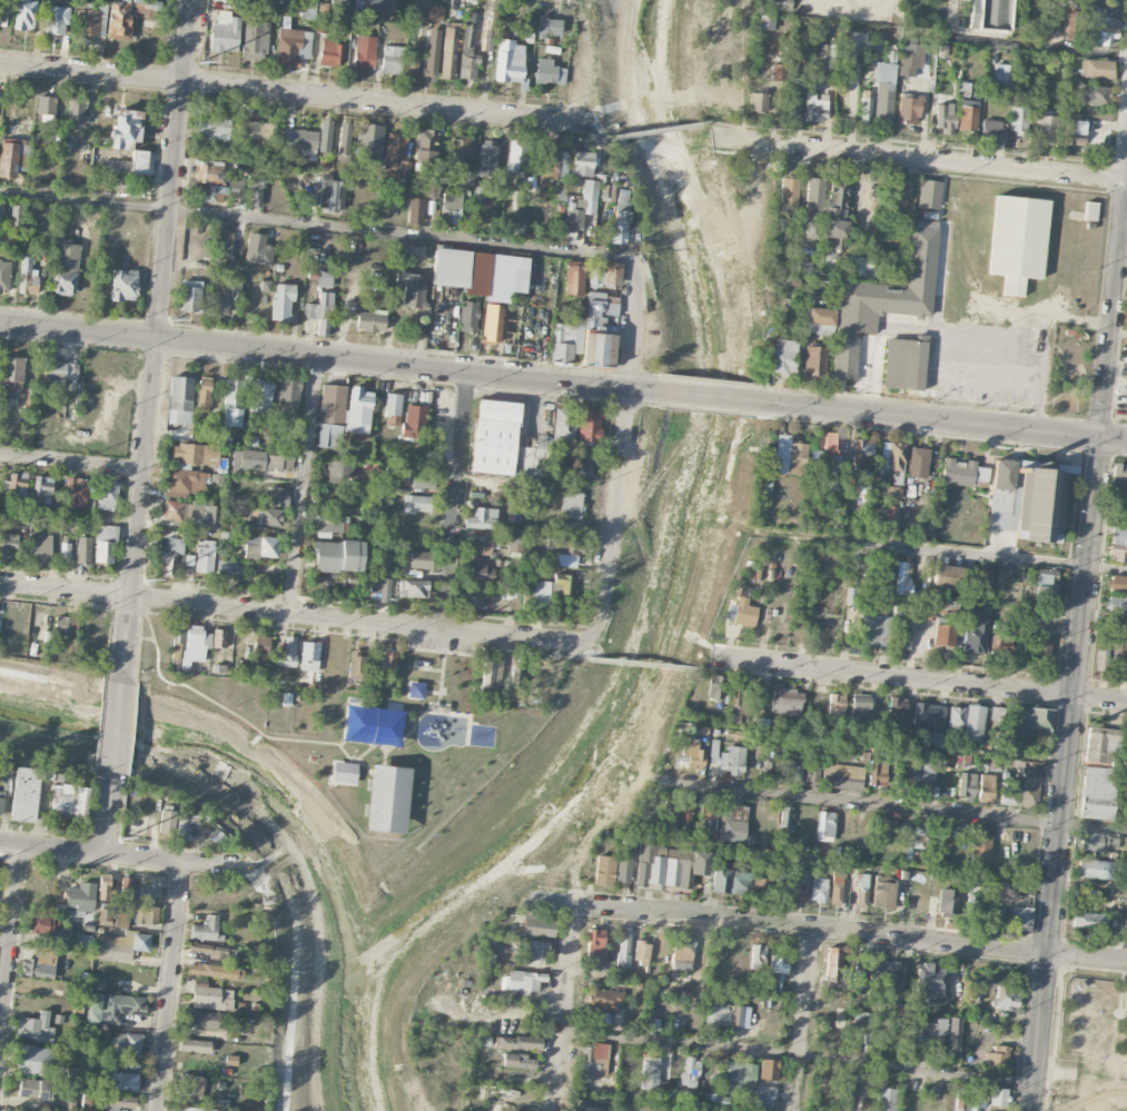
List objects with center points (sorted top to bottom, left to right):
building: (257, 0)
road: (854, 3)
building: (338, 4)
building: (377, 4)
building: (778, 4)
building: (144, 7)
building: (308, 9)
building: (436, 12)
building: (24, 14)
building: (989, 14)
building: (55, 16)
building: (119, 20)
building: (765, 21)
building: (88, 22)
building: (1072, 24)
building: (548, 27)
building: (225, 32)
building: (1099, 34)
building: (255, 39)
road: (1035, 44)
building: (291, 47)
building: (365, 51)
building: (942, 51)
building: (330, 52)
building: (448, 52)
building: (432, 56)
building: (467, 56)
building: (827, 56)
building: (911, 56)
building: (392, 60)
building: (412, 60)
building: (510, 61)
power tower: (198, 62)
building: (1096, 68)
building: (779, 71)
building: (548, 72)
building: (1001, 75)
building: (883, 92)
road: (295, 93)
building: (1090, 95)
building: (758, 101)
building: (45, 105)
building: (814, 106)
building: (791, 108)
building: (908, 108)
building: (864, 110)
building: (76, 111)
building: (967, 115)
building: (945, 117)
building: (1018, 120)
road: (729, 125)
building: (214, 127)
building: (125, 128)
building: (256, 129)
road: (656, 129)
building: (1046, 129)
building: (1075, 130)
building: (993, 131)
building: (325, 136)
road: (594, 136)
building: (344, 138)
building: (369, 140)
building: (299, 142)
building: (425, 145)
building: (457, 149)
building: (396, 156)
building: (516, 156)
building: (13, 157)
building: (486, 157)
building: (139, 160)
road: (921, 160)
building: (563, 163)
building: (582, 163)
building: (120, 166)
building: (547, 166)
building: (210, 172)
building: (466, 178)
building: (434, 181)
building: (100, 183)
building: (606, 186)
building: (236, 189)
building: (590, 190)
building: (255, 191)
building: (478, 191)
building: (544, 191)
building: (789, 191)
building: (209, 194)
building: (929, 194)
building: (330, 196)
building: (897, 196)
building: (814, 197)
building: (451, 208)
building: (415, 210)
building: (1090, 210)
building: (837, 211)
building: (14, 215)
building: (573, 217)
building: (778, 225)
road: (318, 226)
building: (619, 227)
building: (810, 234)
building: (569, 235)
building: (1017, 241)
building: (223, 245)
building: (258, 249)
building: (859, 267)
building: (66, 268)
building: (481, 272)
building: (604, 274)
building: (4, 276)
building: (28, 276)
building: (324, 279)
building: (574, 279)
building: (123, 285)
building: (265, 286)
building: (412, 288)
building: (223, 294)
building: (189, 295)
building: (884, 298)
building: (281, 301)
road: (1115, 310)
building: (319, 313)
building: (468, 316)
power tower: (172, 319)
building: (820, 320)
building: (370, 321)
building: (493, 323)
building: (596, 334)
road: (158, 336)
road: (1039, 337)
building: (565, 339)
road: (327, 356)
building: (782, 357)
building: (814, 361)
building: (904, 363)
road: (948, 365)
building: (11, 371)
building: (59, 371)
building: (204, 394)
building: (260, 395)
building: (287, 397)
road: (705, 397)
building: (179, 399)
building: (234, 400)
building: (332, 404)
building: (393, 409)
building: (358, 410)
building: (414, 420)
road: (941, 421)
building: (563, 423)
building: (589, 425)
building: (328, 435)
building: (505, 443)
road: (623, 446)
building: (862, 449)
building: (831, 450)
building: (195, 453)
building: (797, 453)
building: (896, 456)
building: (261, 459)
road: (72, 463)
building: (917, 463)
building: (338, 470)
building: (965, 472)
building: (581, 474)
building: (1119, 476)
building: (422, 477)
building: (387, 480)
building: (17, 483)
building: (182, 483)
building: (831, 485)
road: (304, 486)
building: (42, 488)
building: (76, 492)
building: (888, 492)
building: (107, 495)
building: (275, 496)
building: (1027, 498)
road: (455, 503)
building: (416, 504)
building: (571, 505)
building: (179, 509)
building: (1120, 509)
building: (212, 516)
building: (267, 516)
building: (887, 516)
building: (482, 518)
building: (328, 526)
building: (1118, 540)
building: (105, 543)
building: (516, 543)
building: (8, 545)
building: (478, 545)
building: (40, 546)
building: (260, 546)
building: (562, 546)
building: (83, 549)
building: (65, 552)
building: (168, 556)
building: (205, 556)
building: (337, 556)
road: (997, 557)
building: (419, 559)
building: (856, 559)
building: (382, 563)
building: (224, 567)
building: (887, 572)
building: (478, 573)
building: (943, 575)
building: (903, 578)
power tower: (146, 579)
building: (979, 579)
building: (1045, 583)
building: (1117, 584)
building: (382, 588)
building: (413, 588)
building: (552, 588)
building: (852, 596)
building: (472, 599)
building: (526, 599)
building: (1116, 604)
building: (942, 606)
building: (740, 612)
building: (1046, 613)
road: (300, 617)
building: (62, 627)
building: (871, 628)
building: (943, 634)
building: (973, 636)
building: (219, 637)
road: (140, 638)
parking lot: (441, 643)
building: (195, 645)
building: (1000, 646)
building: (176, 647)
road: (416, 648)
building: (1041, 648)
building: (285, 652)
road: (574, 652)
building: (1101, 652)
building: (260, 653)
building: (1119, 655)
building: (309, 656)
road: (643, 662)
building: (387, 663)
building: (356, 665)
road: (712, 665)
road: (433, 668)
building: (538, 674)
building: (490, 676)
road: (919, 680)
building: (714, 687)
building: (416, 690)
road: (434, 692)
road: (128, 693)
building: (510, 693)
building: (785, 700)
building: (743, 701)
building: (817, 705)
building: (836, 706)
building: (861, 706)
road: (227, 710)
building: (896, 710)
road: (436, 711)
building: (928, 713)
building: (995, 713)
road: (468, 715)
building: (956, 716)
building: (759, 723)
building: (973, 723)
building: (1035, 723)
park: (372, 725)
road: (116, 728)
park: (364, 734)
building: (933, 740)
road: (355, 741)
building: (1100, 744)
building: (713, 750)
building: (1126, 752)
building: (692, 753)
road: (386, 755)
building: (732, 760)
building: (769, 763)
road: (221, 767)
building: (792, 771)
building: (4, 772)
building: (344, 772)
building: (877, 772)
building: (811, 773)
building: (910, 773)
road: (1066, 774)
building: (842, 776)
building: (927, 781)
building: (967, 784)
building: (986, 787)
building: (1029, 791)
building: (28, 792)
building: (1009, 793)
building: (1097, 793)
building: (68, 798)
building: (386, 798)
building: (1, 801)
road: (896, 807)
building: (671, 810)
building: (685, 810)
building: (706, 813)
road: (107, 816)
building: (166, 822)
building: (784, 822)
building: (185, 823)
building: (733, 824)
building: (824, 825)
building: (884, 830)
building: (921, 836)
power tower: (120, 840)
building: (1094, 841)
building: (980, 844)
road: (121, 850)
building: (912, 855)
building: (623, 861)
building: (699, 863)
building: (649, 866)
building: (678, 867)
building: (1095, 869)
building: (603, 873)
building: (721, 879)
building: (741, 882)
building: (125, 884)
building: (781, 884)
building: (798, 884)
building: (760, 886)
building: (105, 887)
building: (149, 887)
building: (837, 887)
building: (819, 889)
building: (886, 894)
building: (79, 899)
building: (947, 901)
building: (973, 904)
building: (1018, 912)
building: (993, 913)
building: (146, 915)
building: (112, 919)
building: (1087, 921)
building: (43, 924)
building: (538, 925)
building: (1126, 928)
building: (206, 929)
road: (829, 931)
road: (290, 932)
road: (10, 940)
building: (82, 941)
building: (595, 941)
building: (119, 945)
building: (624, 948)
building: (215, 951)
building: (535, 952)
building: (642, 953)
building: (682, 953)
building: (757, 956)
building: (40, 963)
building: (832, 963)
building: (211, 970)
building: (859, 971)
building: (888, 971)
building: (777, 972)
building: (931, 981)
building: (522, 982)
road: (170, 984)
building: (975, 989)
building: (210, 996)
building: (1006, 999)
building: (606, 1000)
building: (112, 1006)
road: (563, 1008)
building: (718, 1013)
building: (738, 1015)
road: (1, 1018)
building: (204, 1019)
building: (841, 1019)
road: (803, 1020)
building: (863, 1023)
building: (34, 1028)
building: (936, 1028)
building: (955, 1032)
building: (516, 1042)
building: (127, 1044)
building: (194, 1045)
road: (798, 1054)
building: (995, 1054)
building: (594, 1058)
building: (230, 1060)
building: (517, 1060)
building: (768, 1069)
building: (650, 1072)
building: (689, 1072)
building: (738, 1077)
road: (515, 1079)
building: (122, 1080)
building: (190, 1088)
building: (36, 1089)
building: (998, 1095)
building: (709, 1098)
building: (764, 1098)
building: (886, 1099)
building: (968, 1099)
building: (106, 1102)
building: (846, 1104)
building: (191, 1109)
building: (596, 1109)
building: (17, 1110)
building: (592, 1110)

